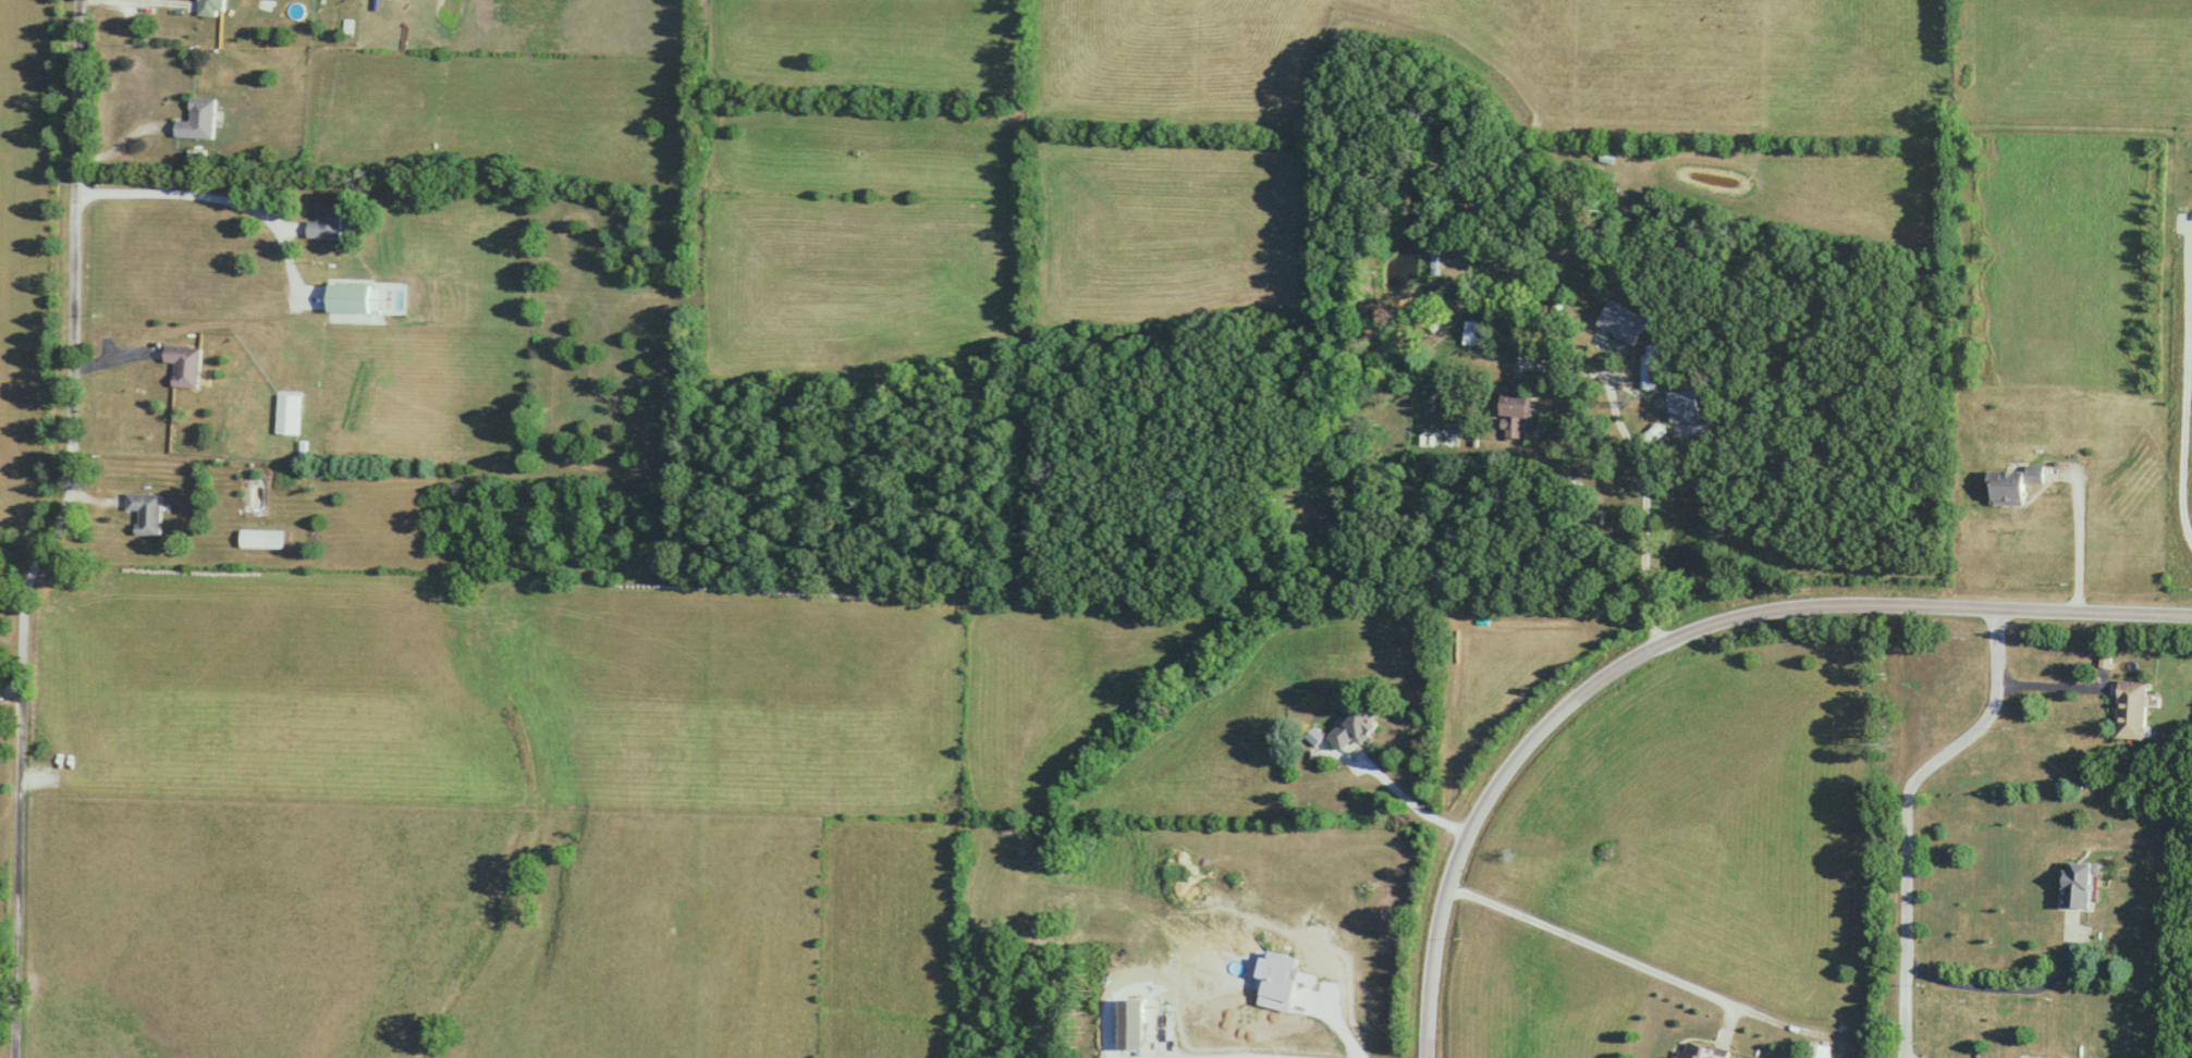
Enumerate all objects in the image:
building: (216, 5)
road: (144, 7)
building: (201, 119)
road: (206, 200)
building: (329, 219)
building: (354, 297)
building: (1469, 334)
building: (185, 365)
road: (2185, 386)
building: (290, 414)
building: (1514, 416)
road: (1651, 431)
building: (2010, 484)
building: (148, 512)
road: (63, 531)
building: (266, 538)
road: (2077, 538)
road: (1679, 641)
road: (2066, 691)
building: (2131, 710)
building: (1351, 729)
road: (1407, 807)
road: (1908, 816)
building: (2077, 886)
road: (1592, 944)
road: (2018, 995)
building: (1699, 1051)
building: (1817, 1051)
road: (1230, 1056)

